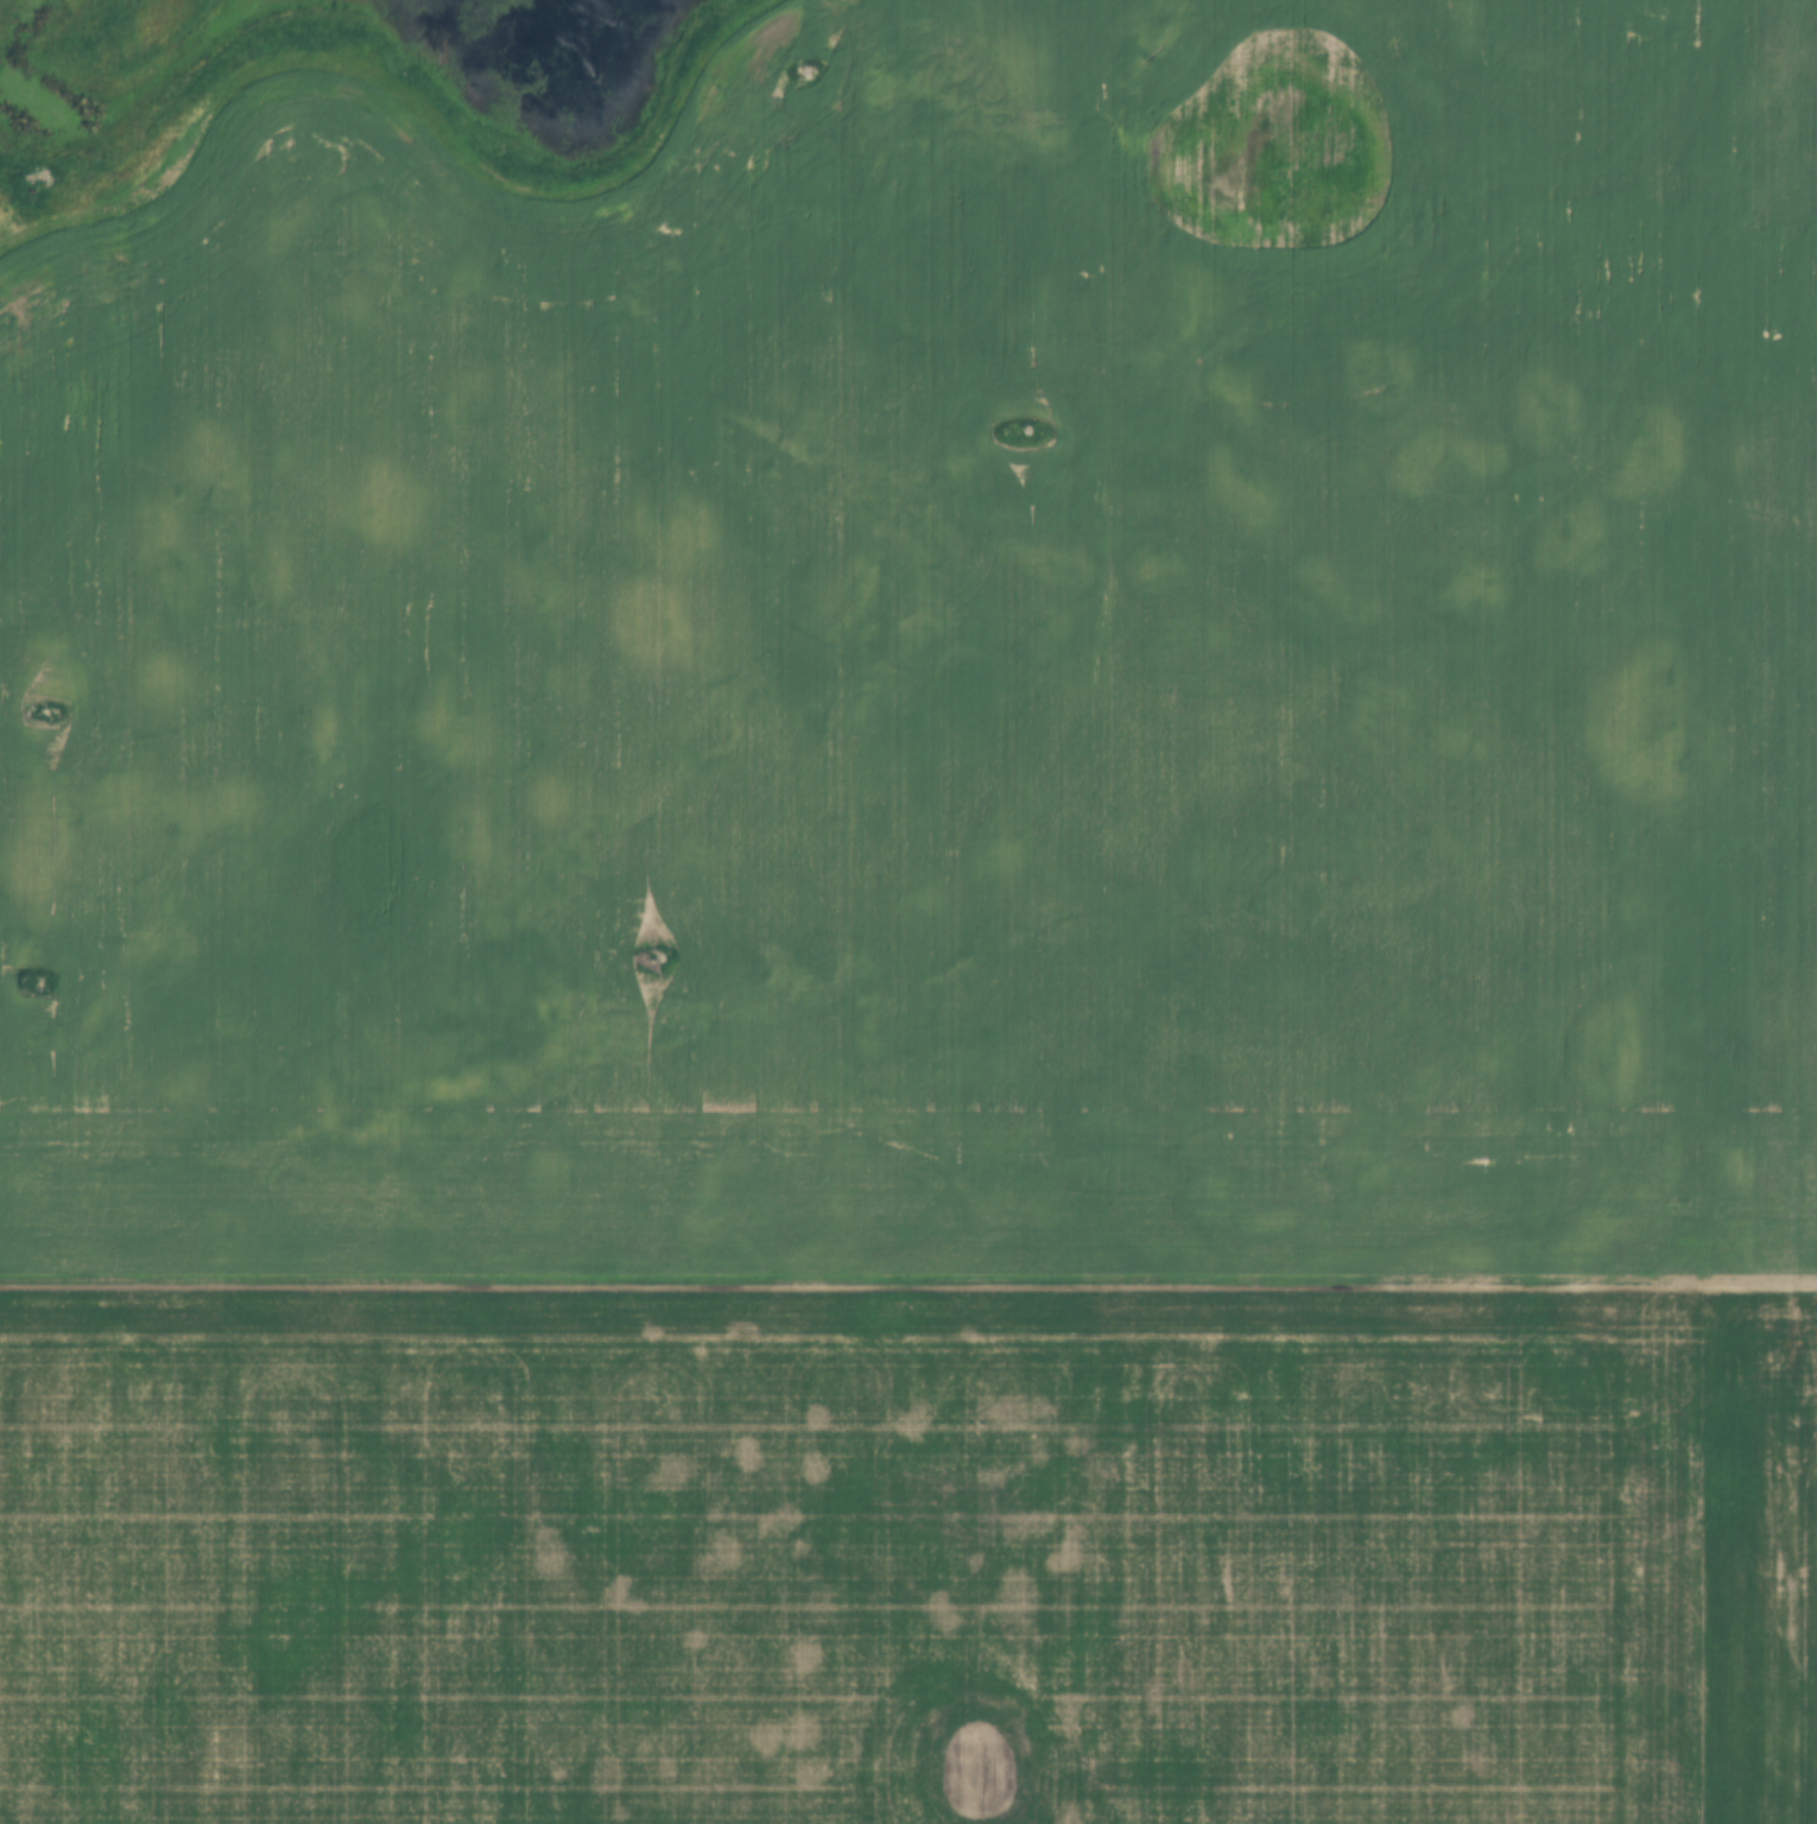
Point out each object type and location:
road: (907, 1287)

